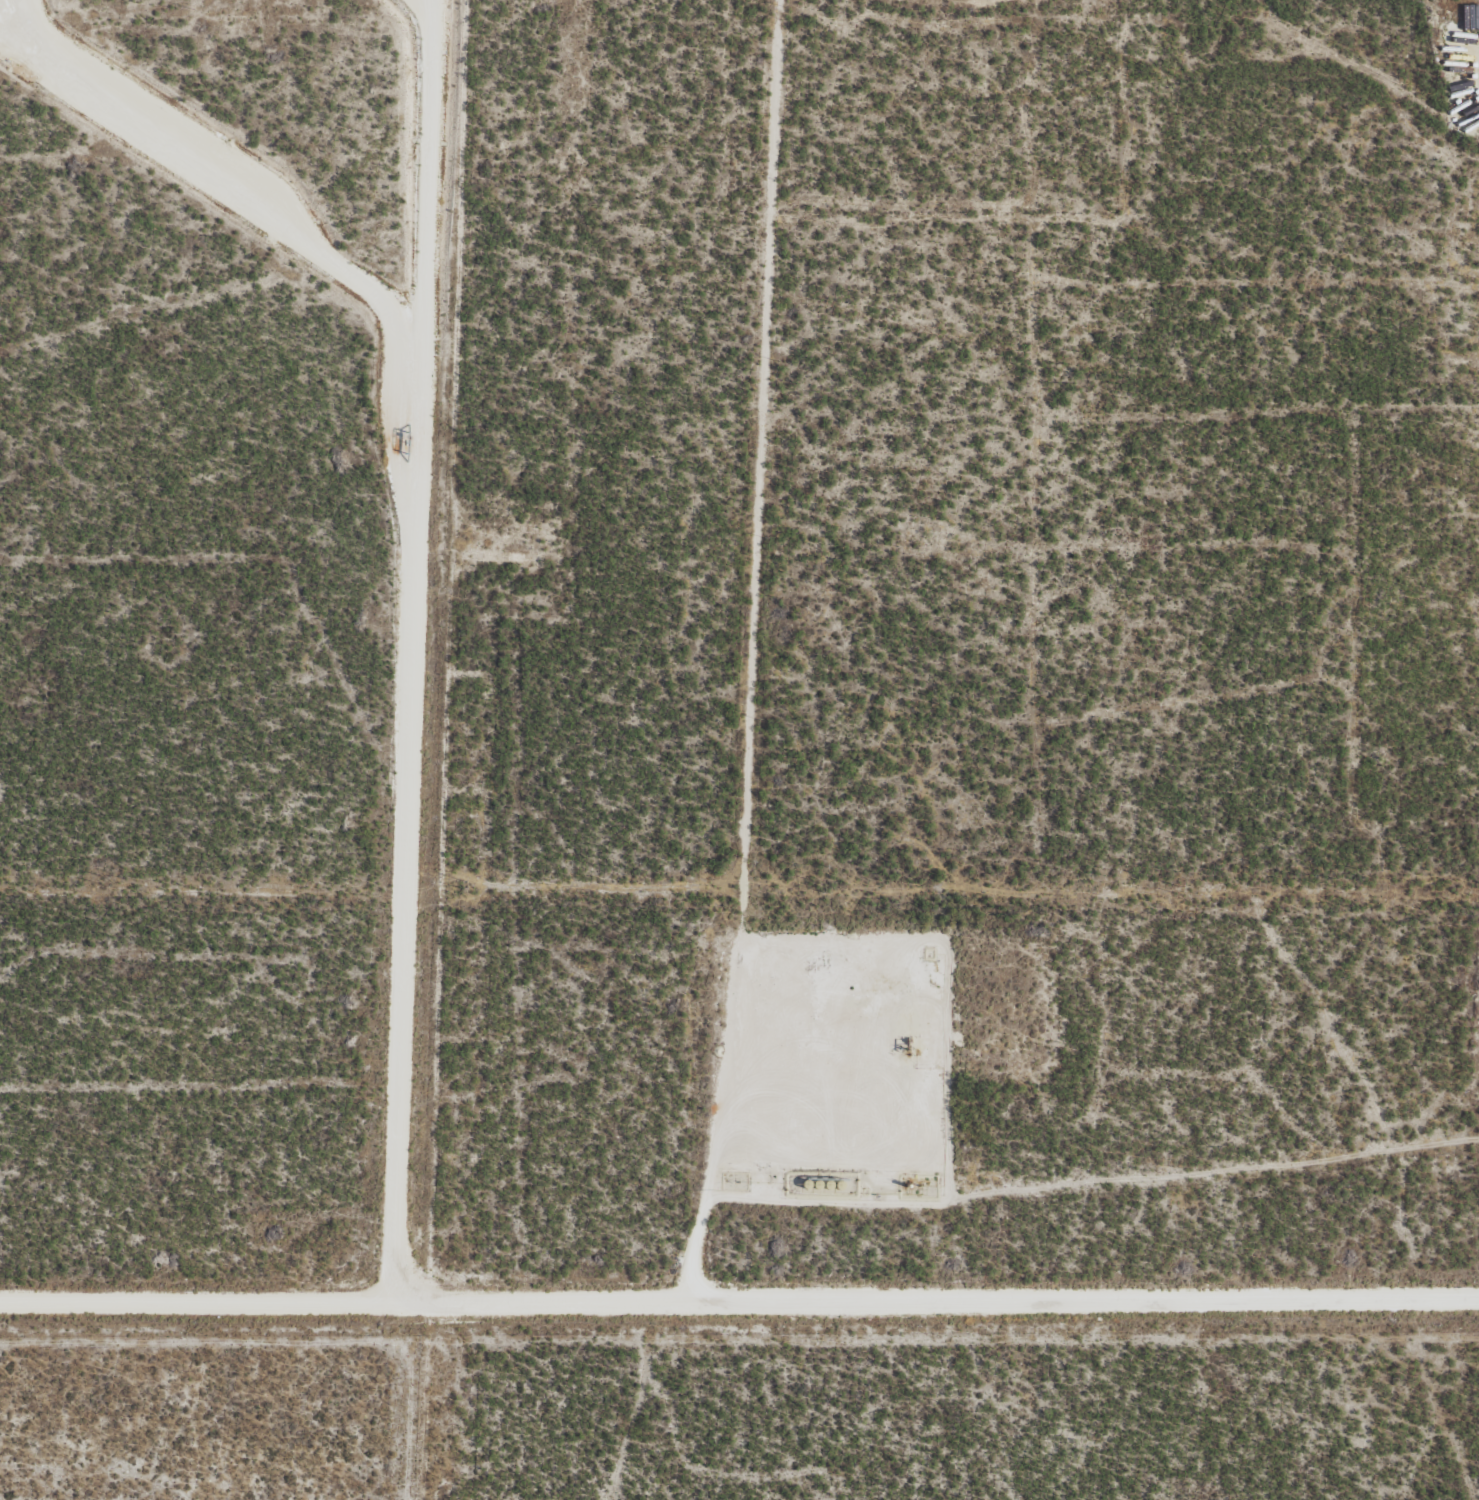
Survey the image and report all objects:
road: (443, 652)
power tower: (107, 882)
power tower: (466, 885)
power tower: (823, 888)
power tower: (1181, 890)
road: (739, 1303)

